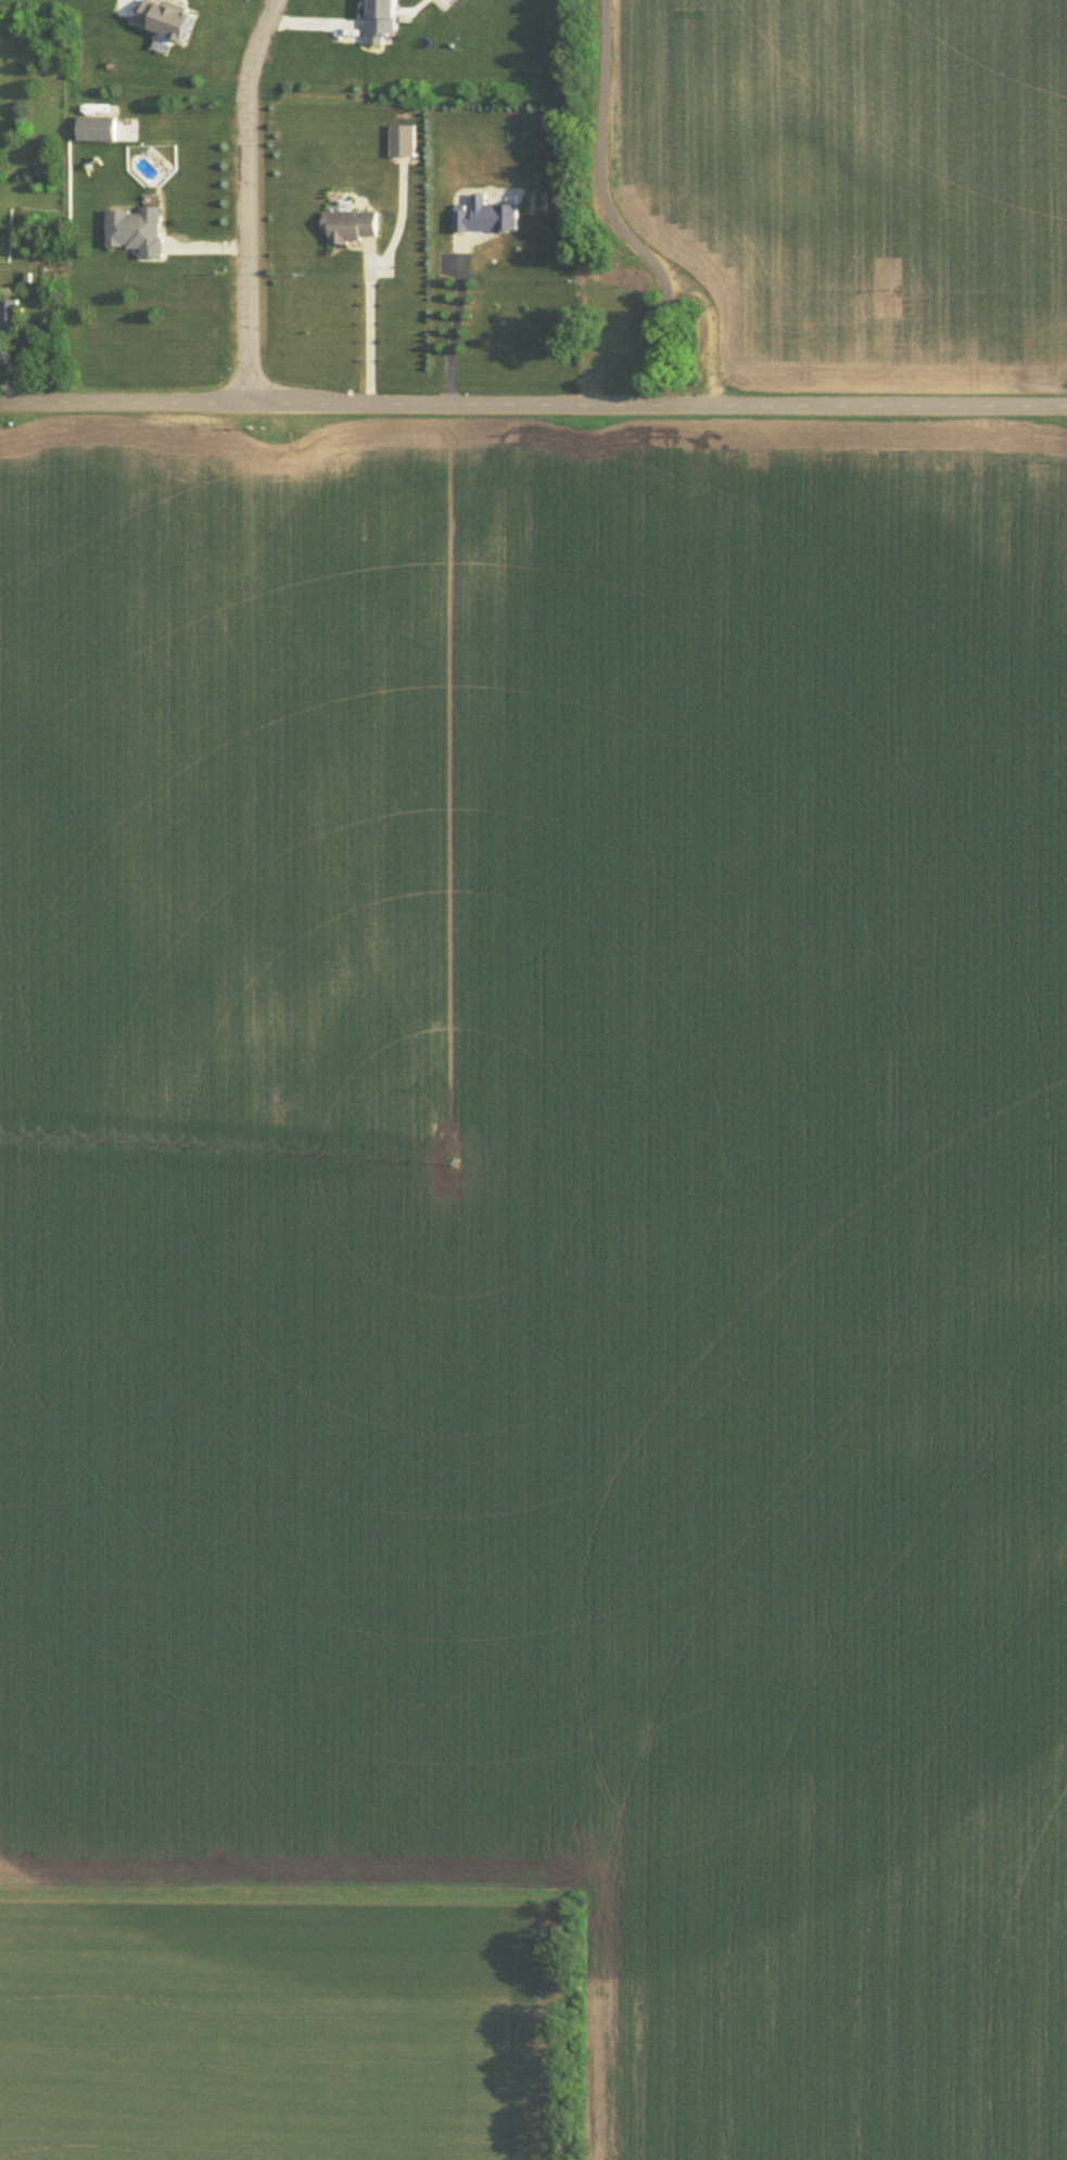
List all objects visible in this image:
building: (164, 16)
building: (380, 20)
building: (97, 126)
building: (402, 138)
crop: (860, 181)
road: (247, 198)
building: (485, 214)
road: (610, 220)
building: (350, 223)
building: (137, 228)
building: (26, 274)
building: (10, 307)
road: (450, 320)
road: (366, 327)
road: (533, 402)
crop: (322, 1168)
crop: (854, 1308)
crop: (314, 2035)

